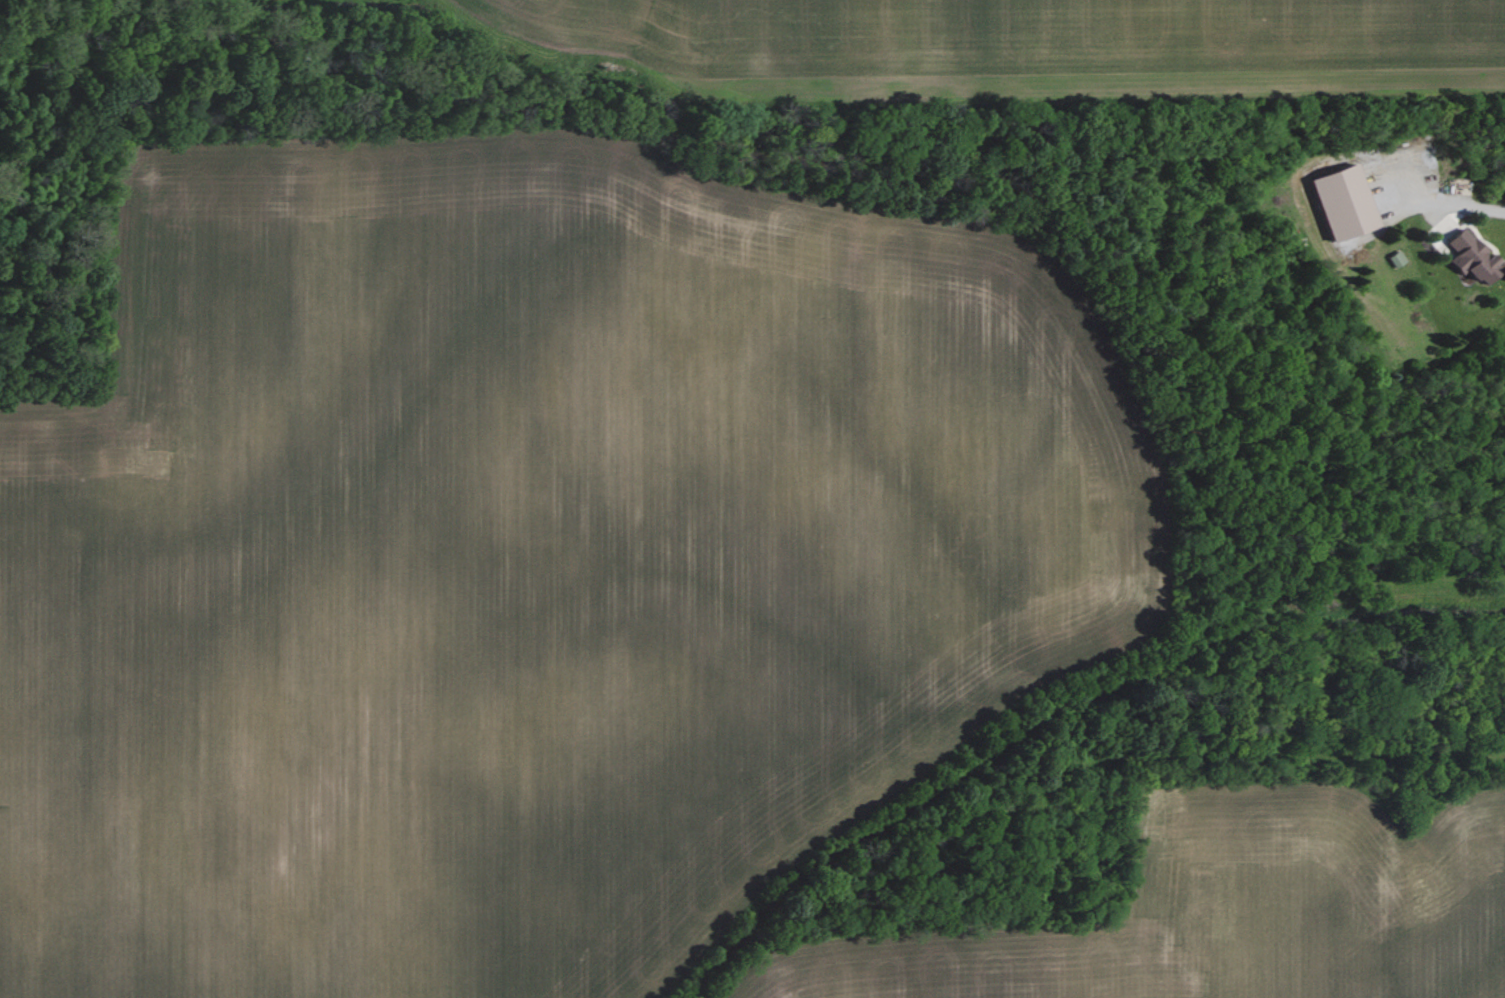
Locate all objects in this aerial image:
building: (1346, 203)
road: (1481, 207)
building: (1474, 257)
building: (1397, 258)

